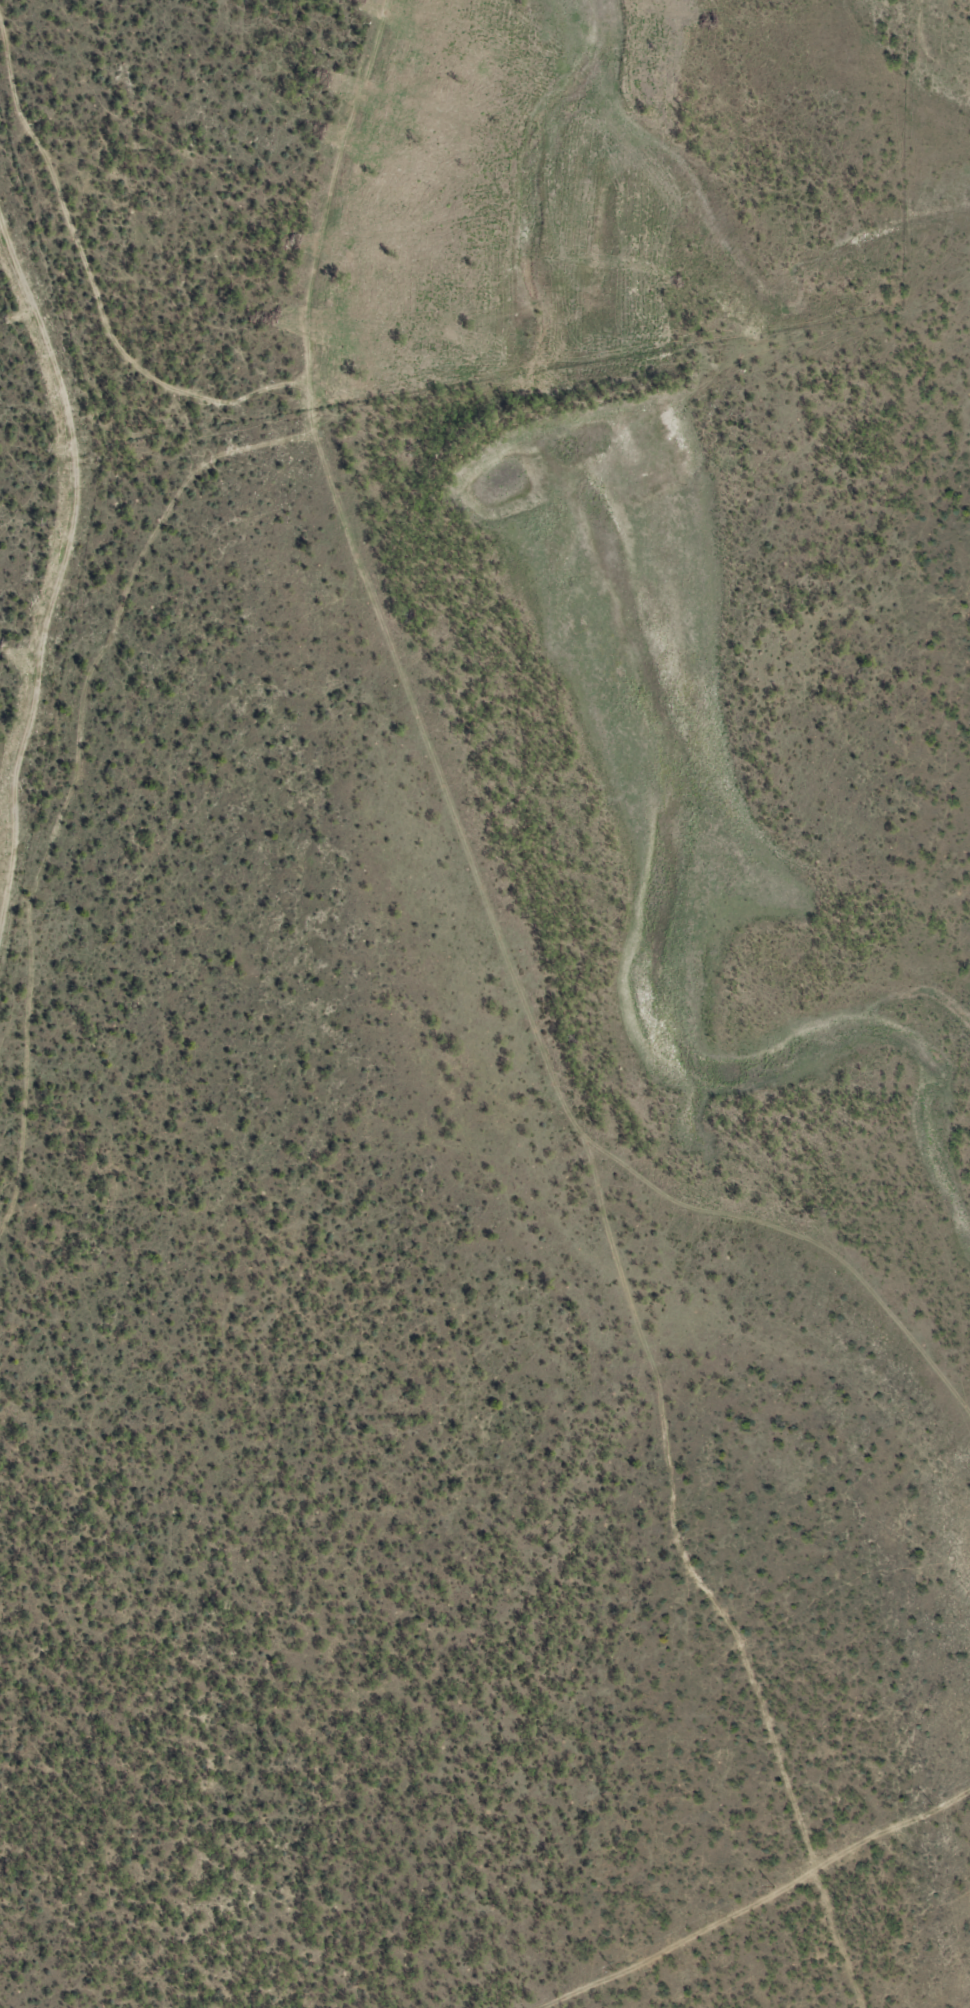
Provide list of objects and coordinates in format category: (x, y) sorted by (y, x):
road: (507, 1071)

